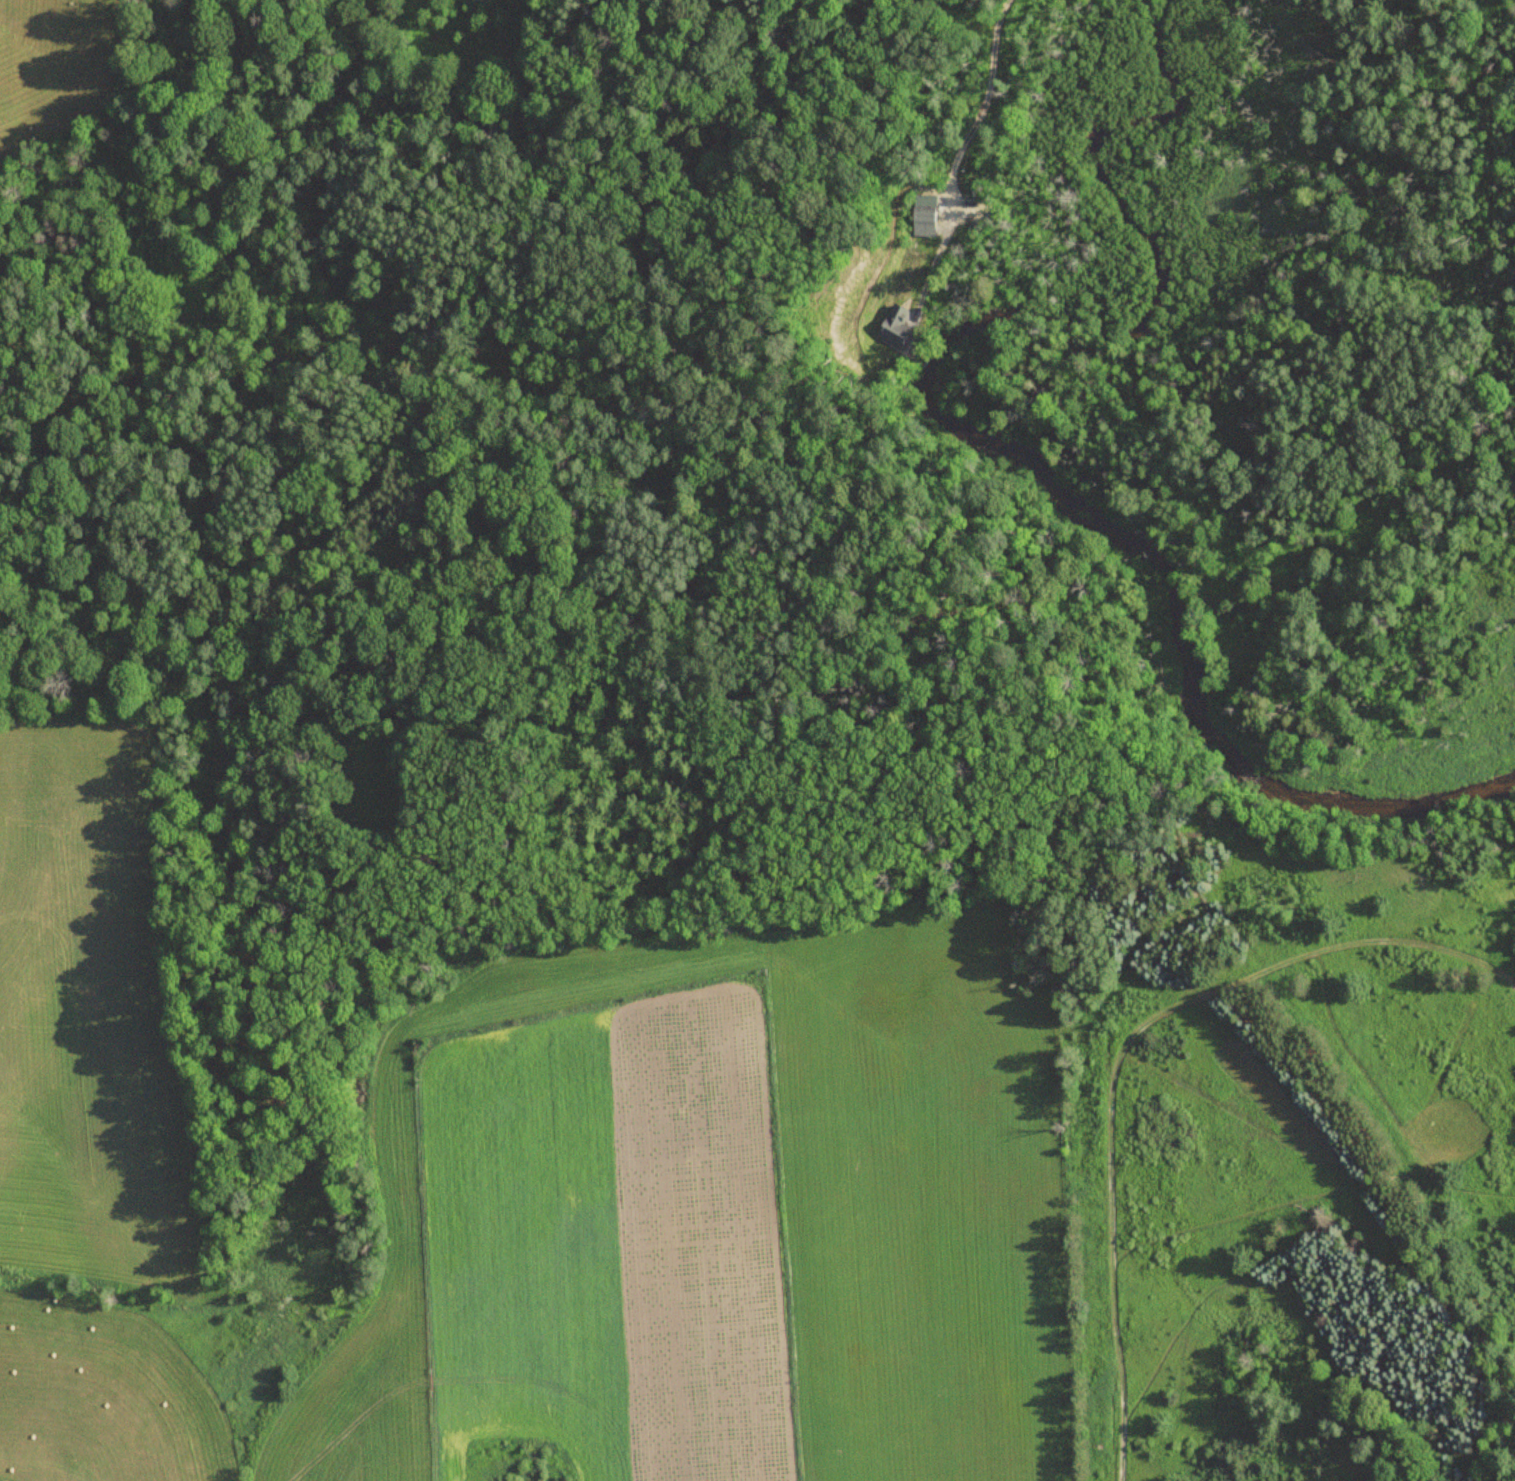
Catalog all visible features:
road: (953, 171)
building: (931, 219)
building: (889, 325)
river: (977, 435)

